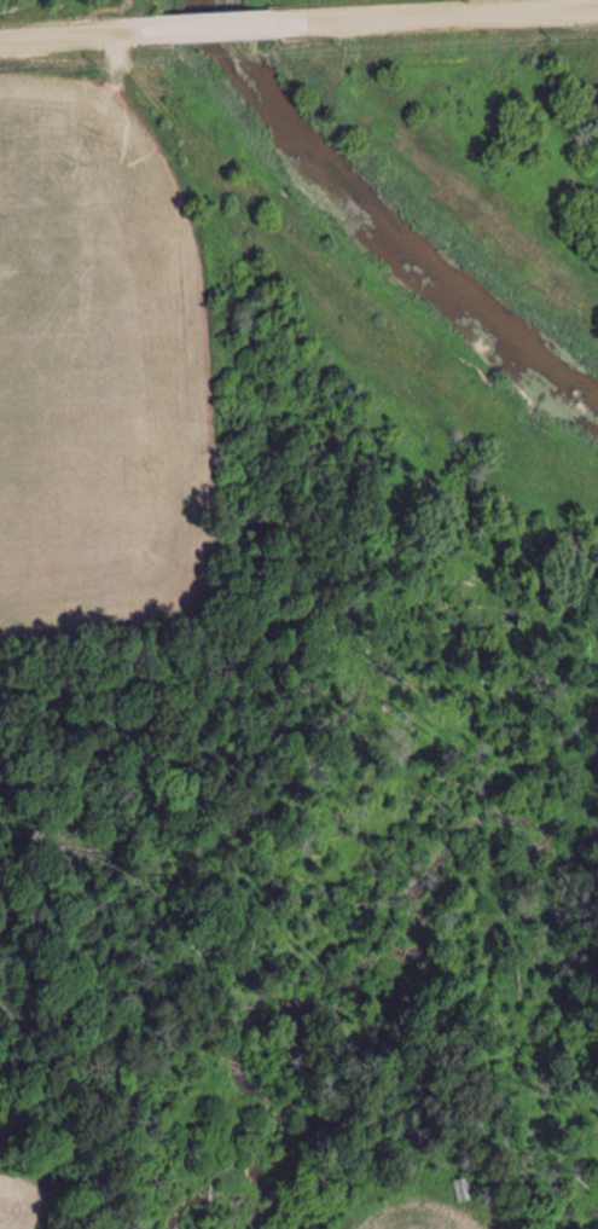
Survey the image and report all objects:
road: (519, 6)
road: (436, 16)
road: (219, 28)
road: (80, 34)
river: (376, 233)
crop: (94, 343)
building: (465, 1190)
crop: (18, 1194)

